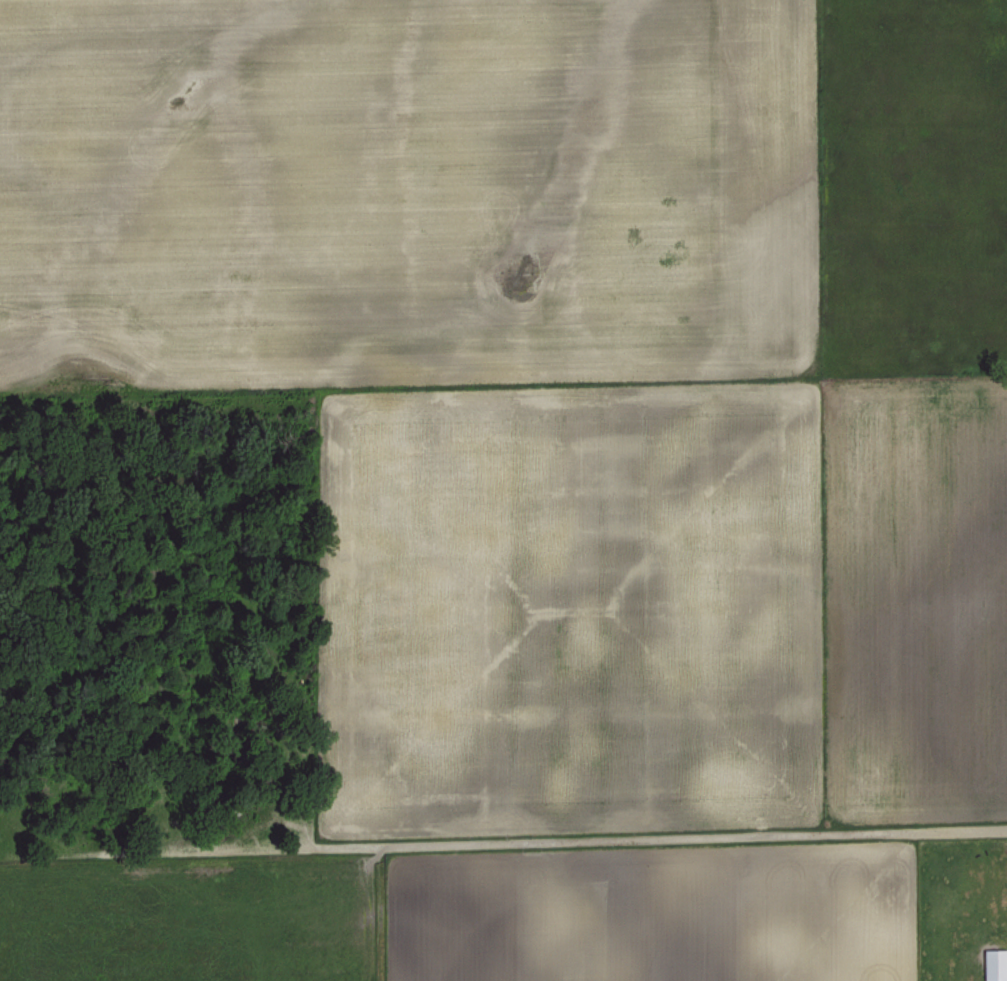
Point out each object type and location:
building: (993, 963)

